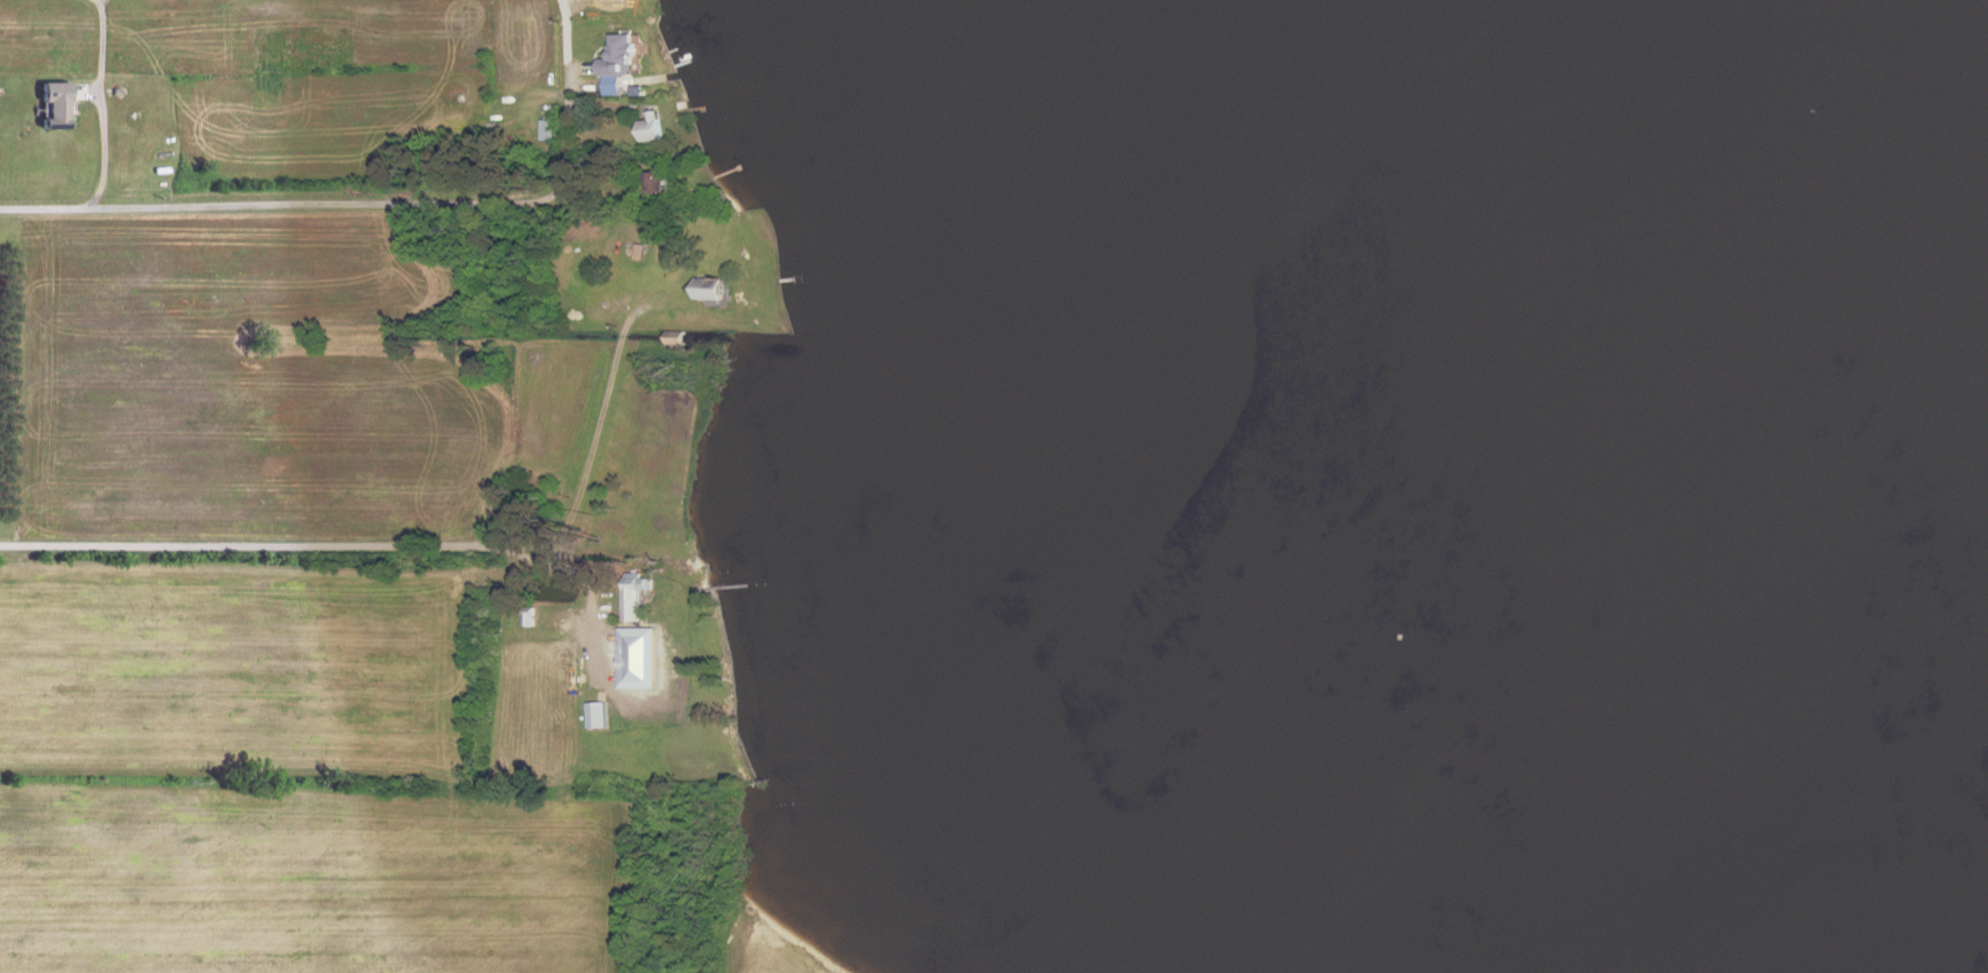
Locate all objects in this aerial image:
building: (609, 2)
building: (621, 55)
building: (53, 97)
road: (102, 109)
building: (551, 128)
building: (652, 131)
building: (596, 169)
building: (657, 180)
building: (614, 204)
road: (378, 205)
building: (640, 250)
building: (667, 255)
building: (709, 288)
building: (676, 337)
road: (415, 547)
building: (687, 567)
road: (578, 578)
building: (636, 595)
building: (529, 615)
building: (640, 657)
crop: (235, 665)
building: (599, 714)
road: (342, 777)
crop: (310, 881)
crop: (773, 956)

